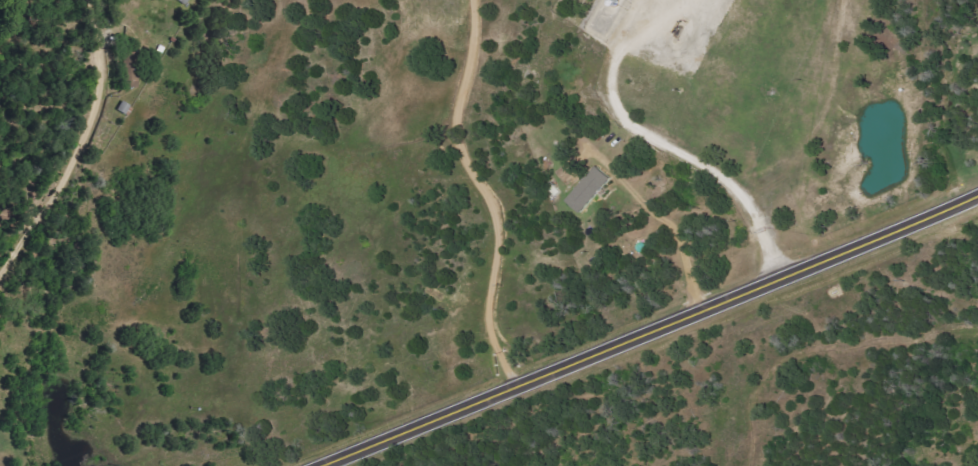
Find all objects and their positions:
building: (184, 1)
petroleum well: (673, 21)
road: (915, 91)
road: (81, 148)
building: (591, 190)
road: (645, 328)

